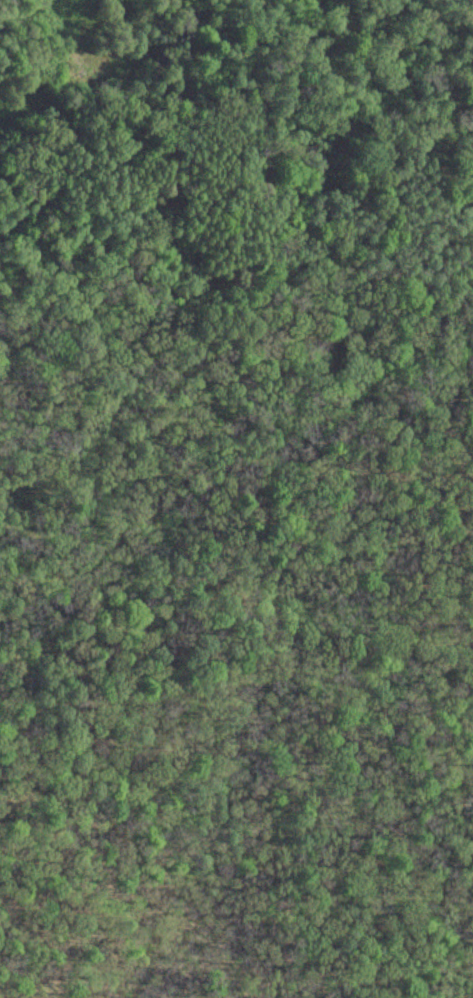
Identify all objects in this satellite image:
road: (255, 236)

